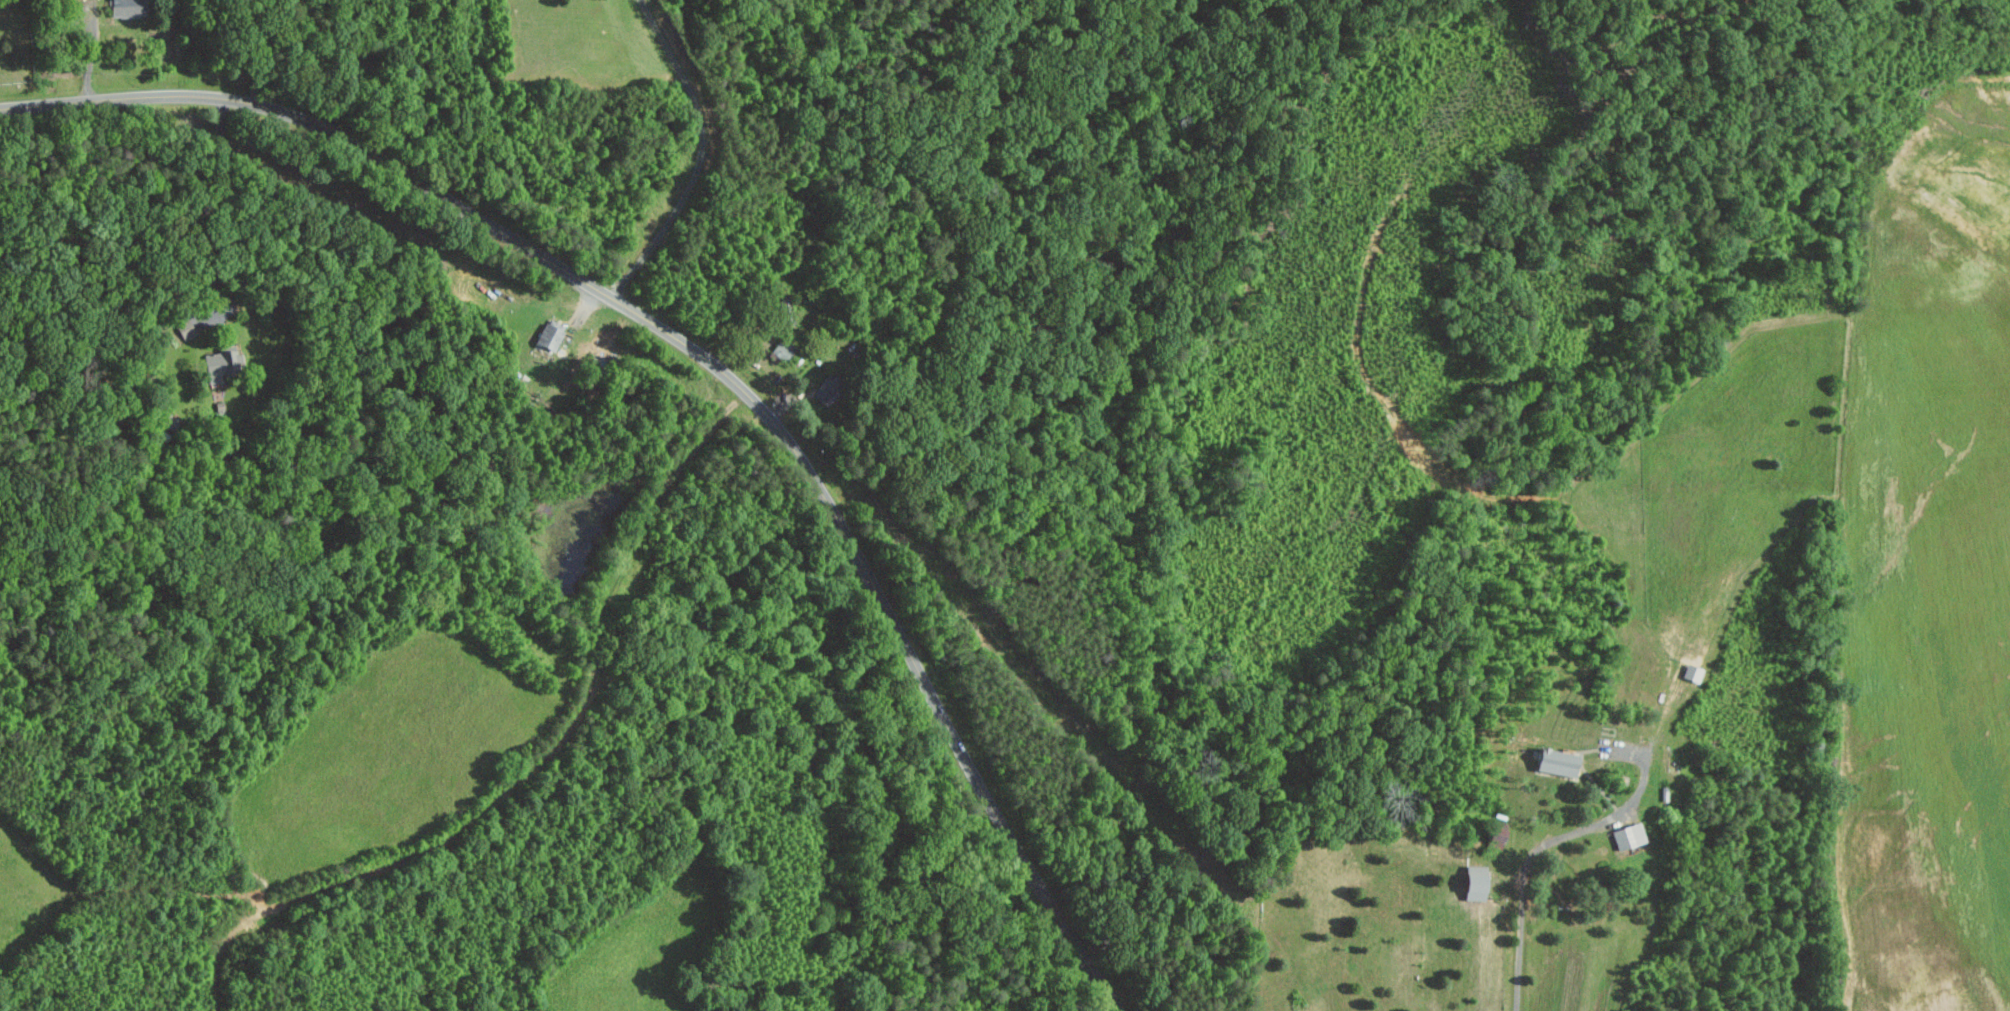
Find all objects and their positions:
building: (126, 8)
road: (94, 48)
road: (702, 157)
road: (200, 209)
building: (186, 328)
building: (547, 335)
road: (708, 358)
building: (219, 364)
building: (827, 391)
building: (1553, 760)
building: (1493, 833)
building: (1623, 836)
road: (1549, 848)
building: (1471, 882)

